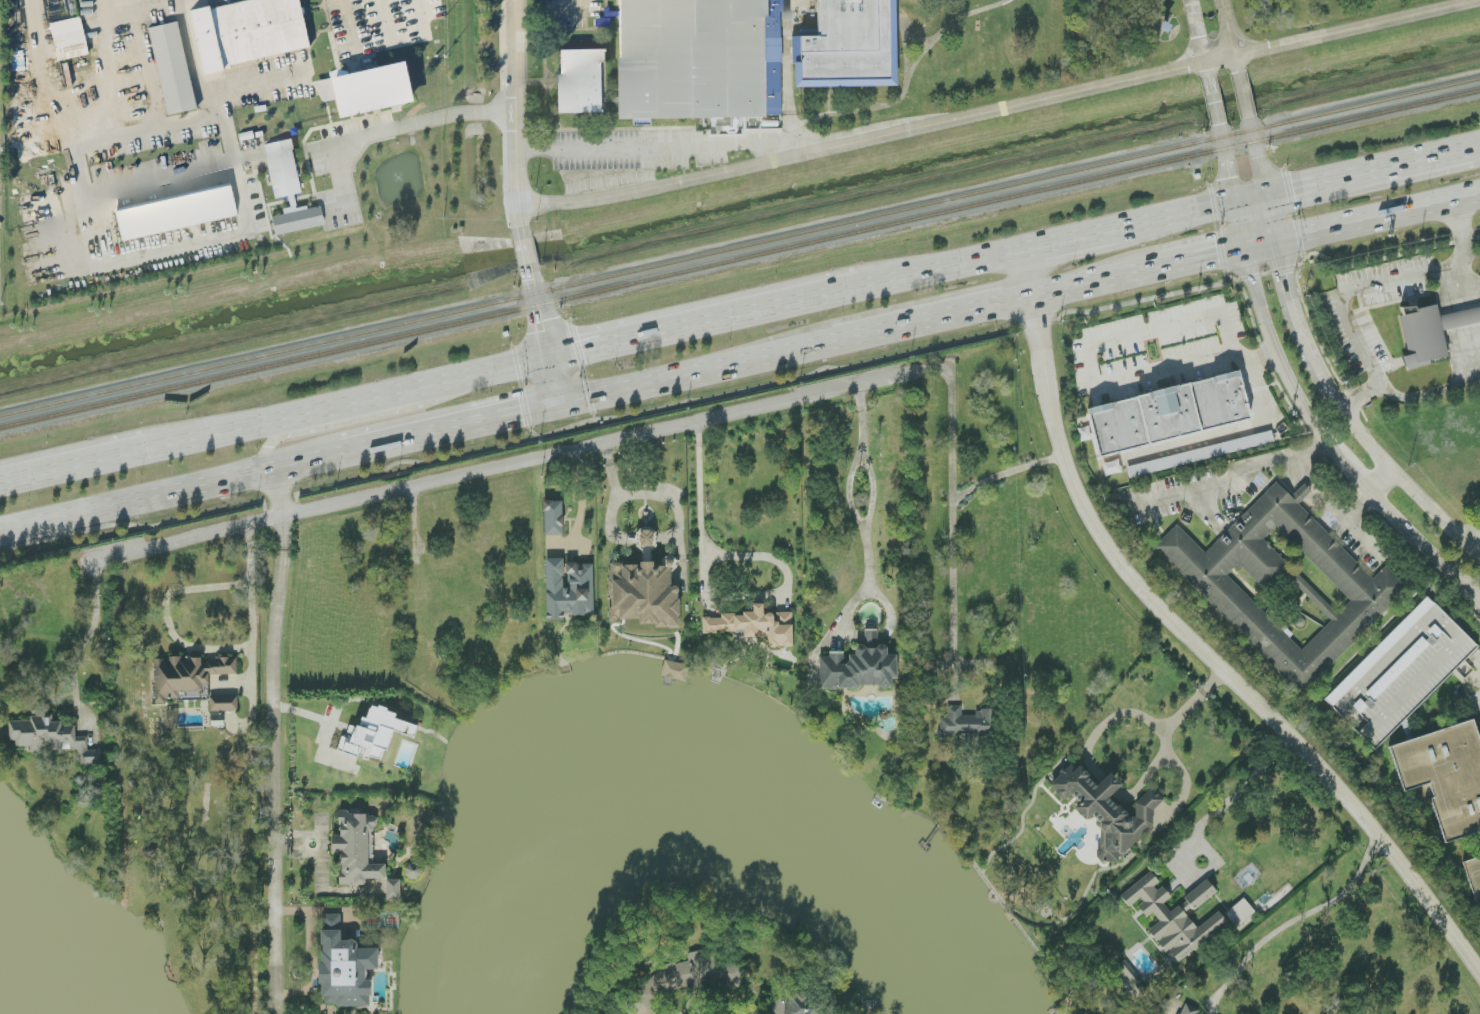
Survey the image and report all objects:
parking lot: (569, 10)
road: (420, 15)
road: (384, 19)
road: (346, 29)
road: (1357, 29)
building: (246, 30)
road: (909, 31)
road: (1230, 34)
building: (67, 37)
road: (1199, 37)
building: (850, 47)
road: (906, 55)
road: (788, 56)
building: (699, 59)
building: (170, 66)
road: (208, 74)
road: (605, 81)
building: (580, 82)
building: (364, 88)
road: (1244, 93)
road: (73, 97)
road: (1213, 100)
road: (838, 112)
road: (513, 115)
road: (393, 126)
road: (795, 134)
road: (876, 139)
road: (1477, 143)
road: (658, 147)
parking lot: (639, 153)
road: (1258, 155)
road: (1228, 161)
road: (1371, 167)
traffic signals: (1231, 177)
road: (160, 181)
traffic signals: (1293, 185)
building: (289, 189)
road: (1251, 194)
road: (1175, 212)
building: (177, 214)
road: (1273, 217)
road: (1379, 220)
road: (1241, 224)
road: (222, 233)
road: (1073, 236)
road: (1263, 246)
railway: (739, 249)
road: (523, 250)
traffic signals: (1217, 257)
road: (1306, 259)
railway: (740, 261)
road: (1194, 261)
traffic signals: (1287, 274)
road: (1432, 276)
road: (1089, 286)
road: (790, 302)
road: (1294, 306)
road: (541, 313)
road: (1469, 316)
road: (935, 318)
building: (1431, 332)
road: (1358, 342)
traffic signals: (551, 358)
road: (1189, 361)
road: (697, 371)
road: (485, 373)
road: (555, 380)
road: (1427, 395)
road: (383, 396)
road: (1359, 396)
road: (703, 400)
traffic signals: (560, 403)
building: (1169, 414)
road: (951, 419)
road: (248, 427)
road: (294, 428)
road: (451, 429)
road: (1229, 433)
road: (1330, 446)
building: (1200, 455)
road: (506, 466)
road: (75, 467)
building: (1112, 468)
road: (1391, 469)
road: (1383, 484)
road: (1229, 485)
road: (863, 491)
road: (170, 494)
road: (613, 498)
road: (1335, 509)
road: (1360, 509)
road: (679, 511)
road: (1207, 512)
building: (553, 518)
road: (1469, 534)
road: (952, 536)
building: (1285, 585)
building: (645, 589)
building: (568, 590)
road: (713, 598)
road: (250, 605)
road: (165, 614)
building: (755, 626)
road: (89, 627)
road: (1192, 641)
building: (859, 667)
road: (1472, 670)
building: (674, 671)
building: (188, 677)
building: (224, 704)
road: (1107, 722)
building: (967, 724)
building: (374, 735)
road: (1166, 736)
building: (49, 738)
road: (273, 741)
building: (1445, 775)
road: (1246, 784)
road: (1109, 786)
building: (1107, 810)
building: (1163, 815)
building: (357, 850)
building: (413, 872)
building: (1474, 875)
building: (393, 889)
building: (1240, 913)
building: (1174, 916)
road: (1293, 921)
road: (310, 953)
building: (344, 968)
building: (697, 973)
building: (1128, 978)
building: (1332, 1004)
building: (799, 1005)
building: (1189, 1010)

